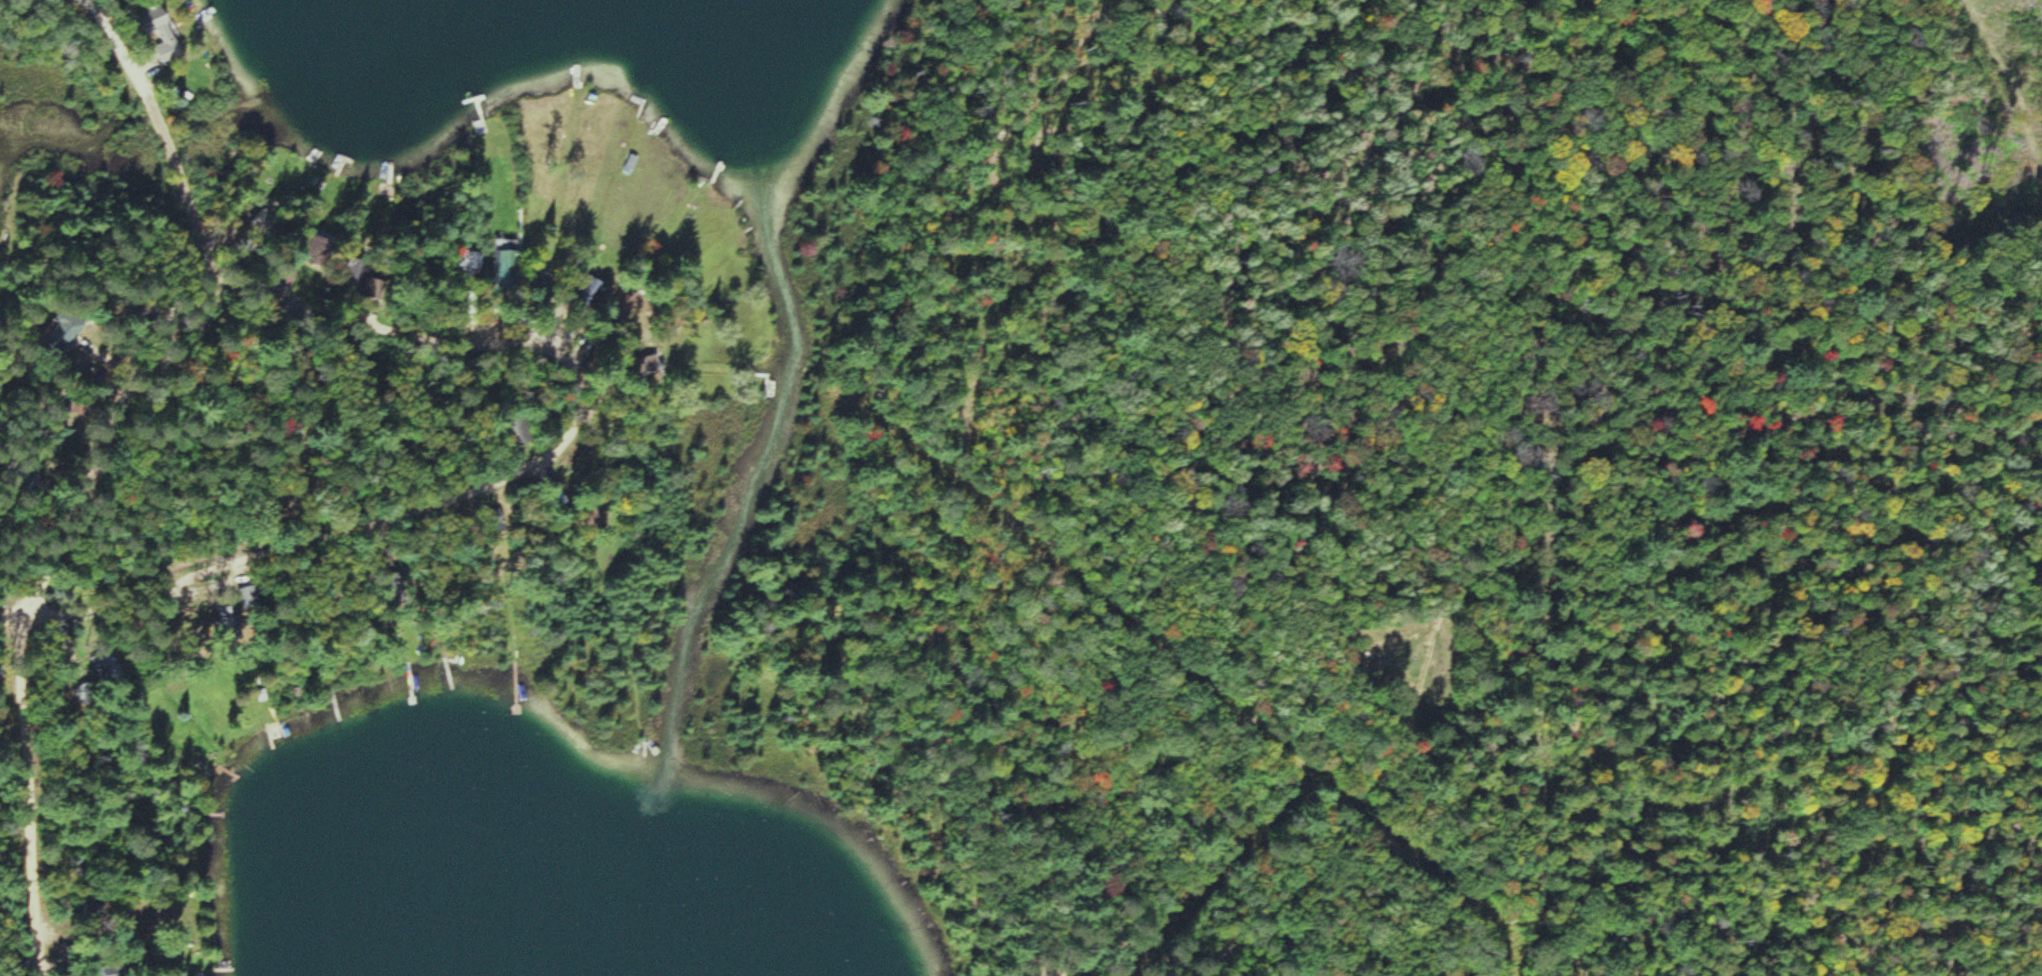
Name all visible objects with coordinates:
building: (165, 33)
road: (2002, 117)
road: (164, 140)
building: (472, 261)
building: (509, 269)
building: (66, 333)
building: (649, 365)
road: (93, 436)
road: (519, 470)
building: (565, 497)
road: (11, 603)
building: (233, 625)
building: (102, 678)
road: (1435, 727)
road: (38, 788)

